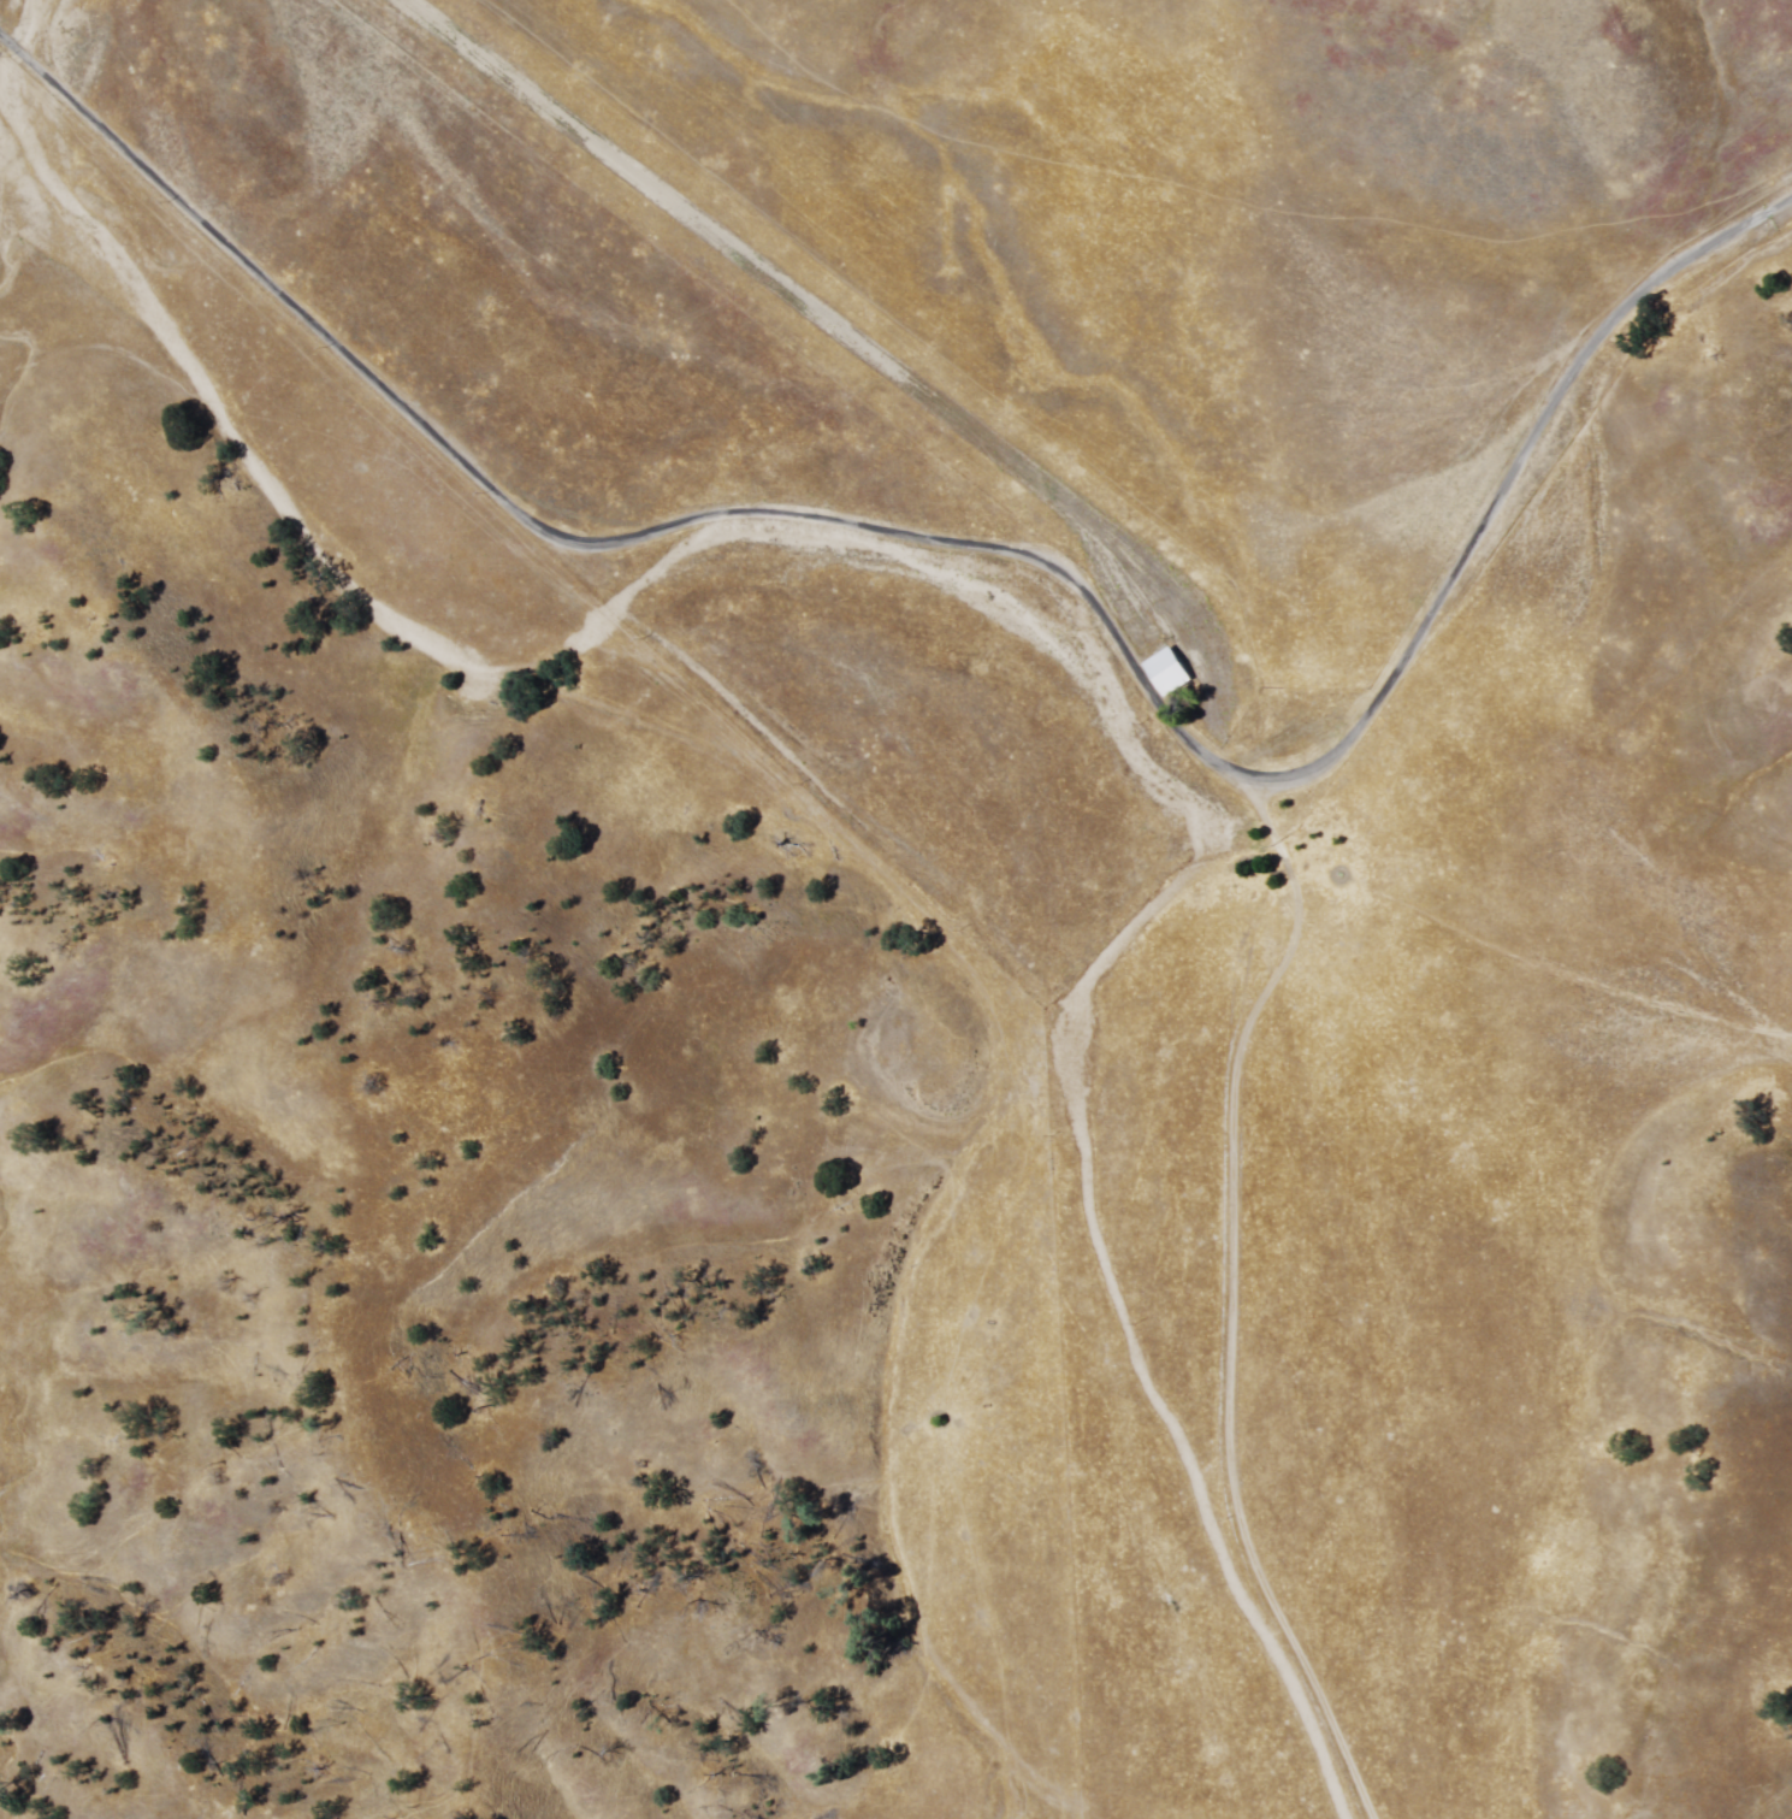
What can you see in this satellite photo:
airport runway: (794, 318)
airport: (828, 337)
road: (1502, 482)
road: (578, 544)
building: (1169, 672)
road: (1232, 1301)

